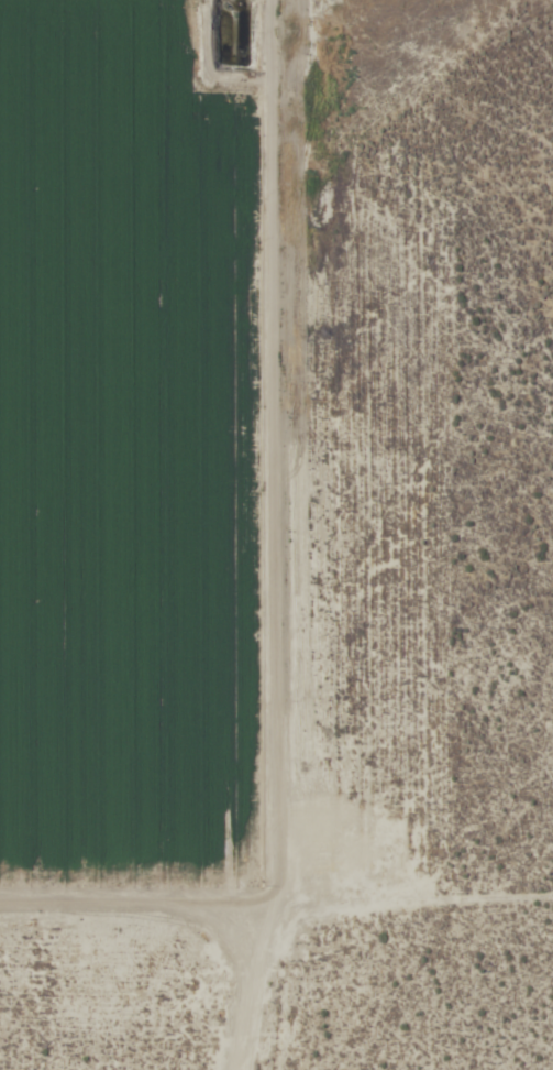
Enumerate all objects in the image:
crop: (276, 535)
road: (297, 535)

